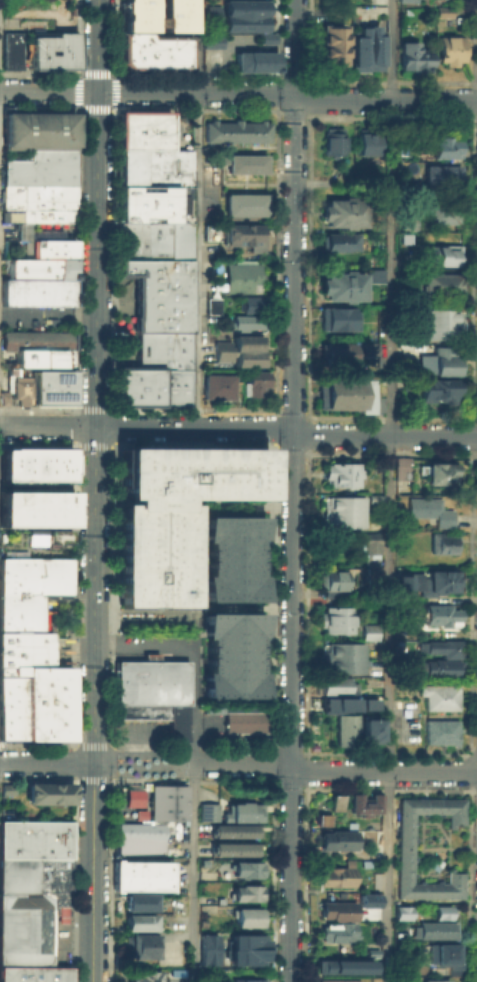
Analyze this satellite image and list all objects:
building: (244, 7)
building: (211, 9)
building: (442, 10)
building: (126, 15)
building: (142, 15)
building: (173, 15)
building: (211, 18)
building: (243, 22)
building: (44, 36)
building: (64, 40)
building: (210, 40)
building: (157, 42)
building: (329, 44)
road: (98, 45)
building: (10, 47)
building: (366, 47)
building: (450, 48)
building: (52, 55)
building: (133, 55)
building: (413, 55)
building: (170, 59)
building: (253, 60)
road: (49, 91)
road: (287, 94)
road: (112, 105)
building: (130, 119)
building: (37, 126)
building: (153, 129)
building: (235, 129)
building: (332, 139)
building: (365, 139)
building: (129, 141)
building: (443, 145)
building: (51, 151)
building: (130, 154)
building: (246, 163)
building: (130, 167)
building: (180, 167)
building: (37, 168)
building: (154, 168)
building: (445, 171)
building: (130, 177)
building: (37, 189)
building: (130, 195)
building: (37, 202)
building: (163, 202)
building: (130, 204)
building: (244, 204)
building: (342, 211)
building: (46, 212)
road: (198, 213)
building: (443, 213)
building: (130, 216)
building: (408, 222)
building: (208, 226)
building: (153, 231)
building: (243, 233)
building: (405, 237)
building: (339, 241)
building: (45, 243)
building: (62, 248)
building: (154, 249)
building: (439, 252)
road: (97, 258)
road: (113, 258)
building: (39, 265)
building: (153, 266)
building: (240, 271)
building: (375, 275)
building: (163, 281)
building: (440, 282)
building: (340, 283)
building: (36, 290)
building: (163, 294)
building: (252, 301)
building: (211, 303)
building: (163, 308)
road: (48, 311)
building: (335, 317)
building: (244, 320)
building: (437, 321)
building: (162, 323)
building: (164, 337)
building: (36, 338)
building: (369, 348)
building: (163, 349)
building: (237, 350)
building: (336, 352)
building: (43, 357)
building: (442, 359)
building: (163, 362)
building: (125, 372)
building: (252, 382)
building: (52, 384)
building: (140, 385)
building: (216, 385)
building: (160, 386)
building: (177, 386)
building: (14, 388)
building: (434, 389)
building: (341, 393)
building: (125, 398)
road: (274, 407)
road: (37, 408)
road: (75, 408)
road: (94, 408)
road: (112, 409)
road: (194, 409)
road: (292, 410)
road: (309, 414)
road: (75, 426)
road: (114, 426)
road: (273, 426)
road: (239, 427)
road: (309, 433)
road: (197, 436)
road: (75, 442)
road: (37, 443)
road: (113, 443)
road: (192, 444)
road: (77, 445)
road: (87, 445)
road: (103, 446)
road: (111, 446)
road: (272, 446)
road: (291, 449)
road: (308, 452)
road: (389, 453)
building: (55, 454)
building: (136, 459)
building: (24, 464)
building: (55, 467)
building: (399, 467)
road: (198, 472)
building: (336, 472)
building: (439, 472)
building: (150, 477)
road: (294, 491)
road: (390, 491)
building: (30, 504)
road: (246, 504)
building: (427, 509)
building: (340, 510)
building: (135, 511)
building: (172, 513)
building: (55, 516)
road: (112, 531)
building: (134, 533)
building: (49, 534)
building: (442, 542)
building: (370, 545)
road: (197, 551)
building: (134, 554)
building: (233, 558)
building: (35, 565)
building: (372, 569)
building: (134, 574)
building: (330, 578)
building: (431, 581)
building: (36, 583)
building: (402, 585)
road: (75, 595)
building: (134, 595)
building: (171, 595)
building: (21, 601)
road: (196, 611)
building: (440, 614)
building: (335, 617)
building: (21, 619)
building: (368, 630)
road: (196, 633)
building: (26, 641)
parking lot: (157, 643)
building: (439, 646)
road: (145, 649)
building: (232, 654)
building: (26, 658)
building: (341, 658)
building: (436, 668)
building: (56, 673)
road: (113, 680)
building: (12, 683)
building: (333, 683)
building: (55, 691)
building: (153, 692)
building: (28, 694)
building: (438, 695)
building: (12, 698)
building: (331, 702)
building: (369, 703)
road: (95, 704)
road: (195, 706)
building: (55, 710)
building: (12, 714)
building: (243, 721)
building: (367, 728)
building: (55, 729)
building: (344, 729)
building: (12, 730)
building: (439, 731)
road: (93, 745)
road: (75, 753)
road: (113, 753)
road: (239, 762)
building: (6, 788)
building: (48, 791)
building: (134, 797)
building: (169, 801)
building: (361, 801)
building: (336, 802)
building: (241, 809)
building: (206, 810)
building: (140, 813)
building: (323, 819)
building: (139, 828)
building: (231, 830)
building: (335, 837)
building: (139, 845)
building: (403, 847)
building: (233, 848)
building: (245, 868)
building: (121, 871)
road: (194, 872)
building: (148, 874)
building: (334, 876)
building: (120, 883)
building: (246, 892)
building: (32, 896)
building: (140, 901)
building: (336, 909)
building: (402, 912)
building: (442, 912)
building: (246, 916)
building: (139, 921)
building: (431, 927)
building: (335, 931)
building: (140, 943)
building: (207, 948)
building: (246, 948)
building: (372, 952)
building: (443, 953)
building: (118, 964)
building: (340, 965)
building: (143, 975)
building: (246, 980)
building: (338, 980)
building: (435, 980)

